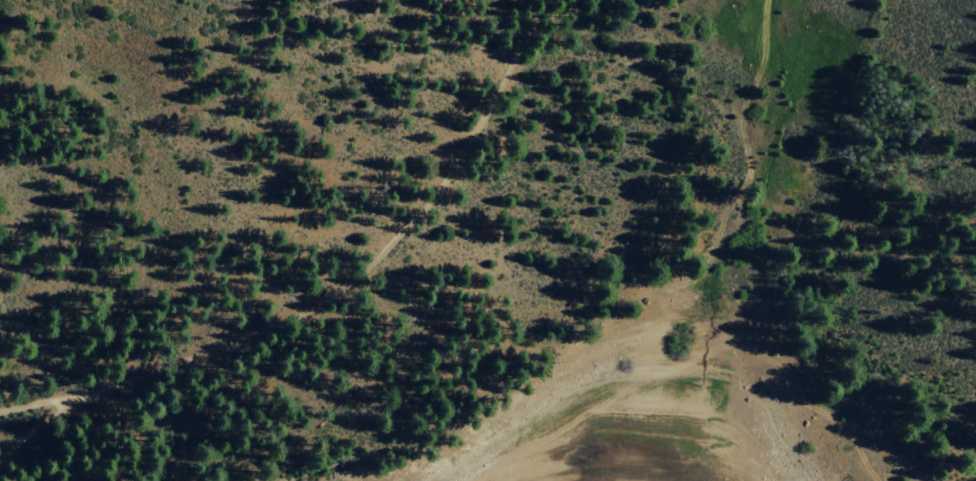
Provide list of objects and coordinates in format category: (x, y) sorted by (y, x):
road: (342, 295)

